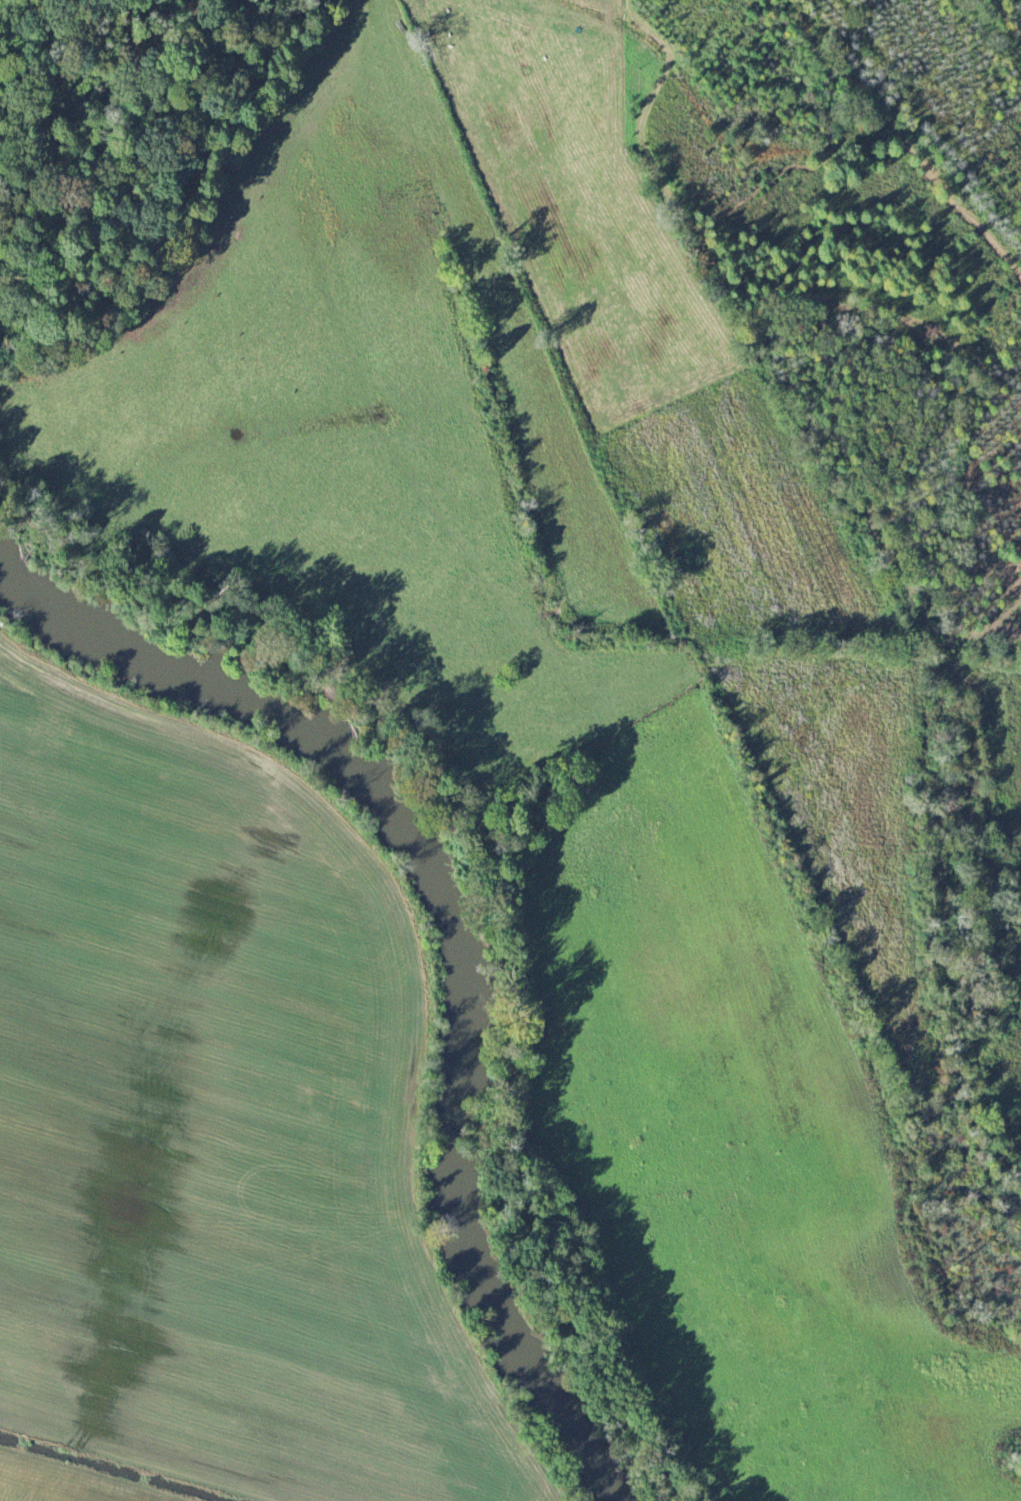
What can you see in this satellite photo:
river: (450, 937)

